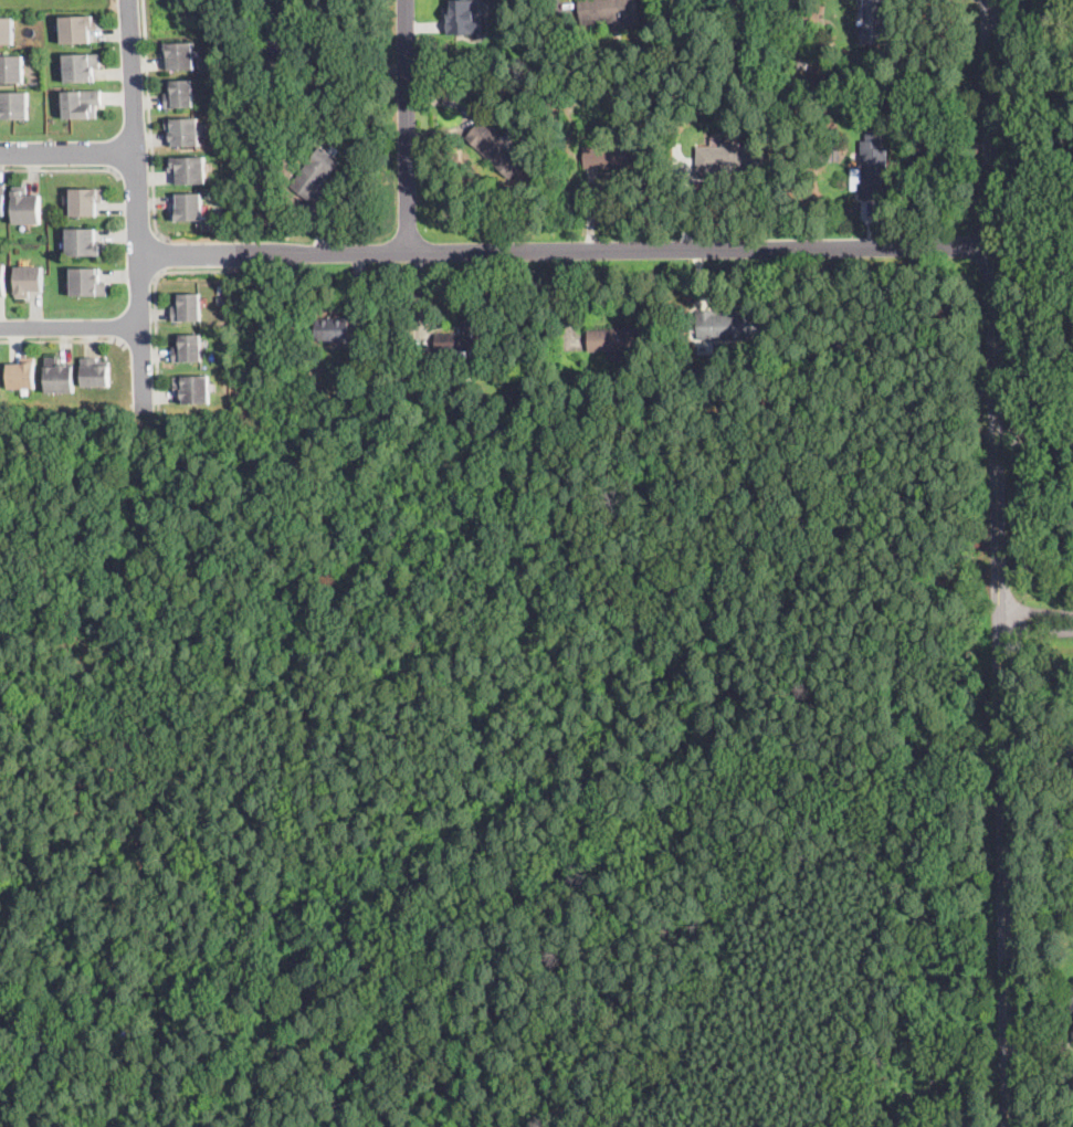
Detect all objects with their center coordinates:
building: (613, 13)
building: (463, 17)
building: (874, 23)
building: (78, 27)
building: (8, 29)
building: (818, 29)
building: (277, 43)
building: (181, 53)
road: (328, 53)
building: (273, 64)
building: (803, 65)
building: (82, 66)
building: (12, 67)
building: (1060, 87)
building: (180, 92)
building: (82, 103)
building: (14, 104)
road: (149, 123)
road: (409, 126)
building: (187, 129)
building: (267, 138)
building: (496, 149)
building: (831, 152)
road: (67, 154)
building: (613, 157)
building: (729, 158)
building: (189, 168)
building: (871, 168)
road: (61, 170)
building: (316, 172)
road: (136, 173)
building: (2, 198)
building: (86, 199)
building: (27, 204)
road: (138, 206)
building: (188, 206)
building: (85, 242)
road: (624, 251)
road: (161, 254)
road: (198, 256)
building: (3, 278)
building: (29, 278)
building: (87, 280)
road: (156, 305)
building: (187, 305)
road: (993, 309)
building: (730, 325)
road: (71, 327)
building: (333, 328)
building: (463, 338)
building: (619, 340)
road: (65, 341)
road: (140, 345)
building: (864, 346)
building: (189, 347)
building: (462, 354)
building: (419, 369)
building: (96, 371)
building: (23, 373)
building: (313, 373)
building: (60, 375)
building: (193, 387)
building: (701, 394)
road: (791, 570)
road: (28, 590)
road: (232, 602)
road: (707, 611)
road: (837, 619)
road: (1031, 620)
road: (334, 680)
road: (134, 723)
road: (183, 765)
park: (492, 767)
road: (244, 826)
road: (995, 872)
road: (911, 912)
road: (130, 927)
road: (199, 940)
road: (254, 972)
building: (1072, 1011)
road: (508, 1044)

